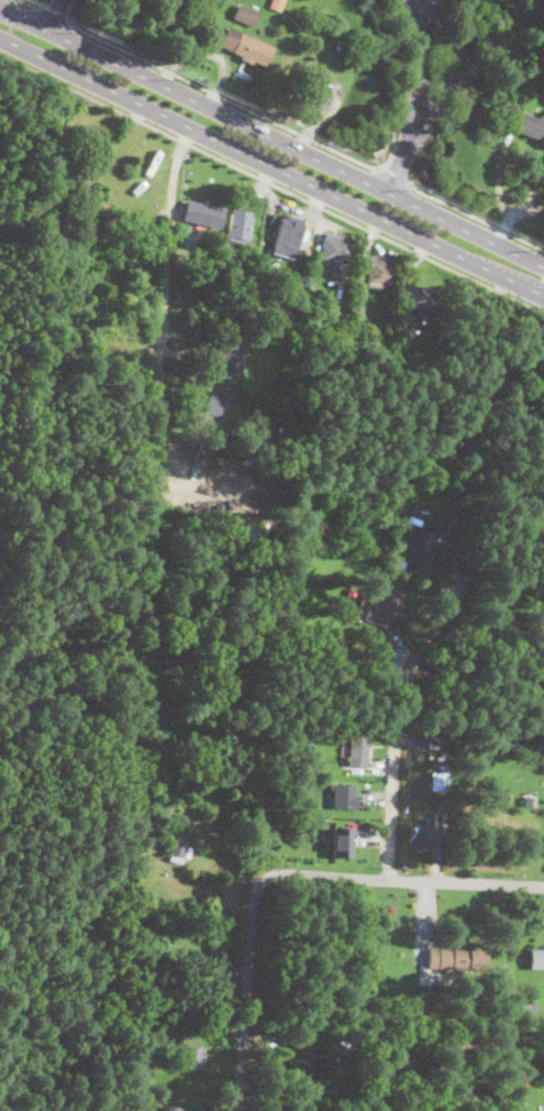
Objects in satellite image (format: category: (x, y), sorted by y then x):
road: (30, 3)
building: (276, 4)
road: (423, 11)
road: (53, 14)
road: (54, 14)
building: (245, 14)
building: (260, 30)
building: (245, 46)
road: (435, 79)
road: (420, 82)
road: (448, 84)
road: (403, 86)
building: (311, 87)
road: (220, 94)
building: (428, 101)
building: (530, 127)
road: (271, 137)
road: (271, 167)
road: (398, 168)
road: (392, 175)
road: (271, 183)
building: (203, 213)
road: (474, 216)
building: (240, 226)
building: (289, 233)
building: (220, 237)
building: (213, 244)
building: (333, 250)
building: (379, 271)
building: (292, 288)
building: (422, 299)
building: (358, 305)
building: (399, 321)
building: (231, 355)
road: (159, 380)
building: (208, 409)
building: (284, 426)
building: (411, 543)
building: (385, 606)
building: (368, 637)
road: (428, 651)
building: (364, 654)
building: (173, 664)
building: (357, 747)
building: (438, 750)
building: (438, 779)
building: (343, 795)
building: (530, 800)
building: (425, 836)
building: (331, 838)
building: (352, 843)
building: (179, 845)
road: (399, 880)
building: (167, 891)
building: (387, 908)
crop: (56, 938)
building: (457, 958)
building: (536, 958)
building: (219, 960)
road: (245, 989)
building: (526, 1008)
building: (189, 1055)
building: (302, 1061)
building: (369, 1061)
building: (403, 1061)
building: (400, 1097)
building: (173, 1108)

